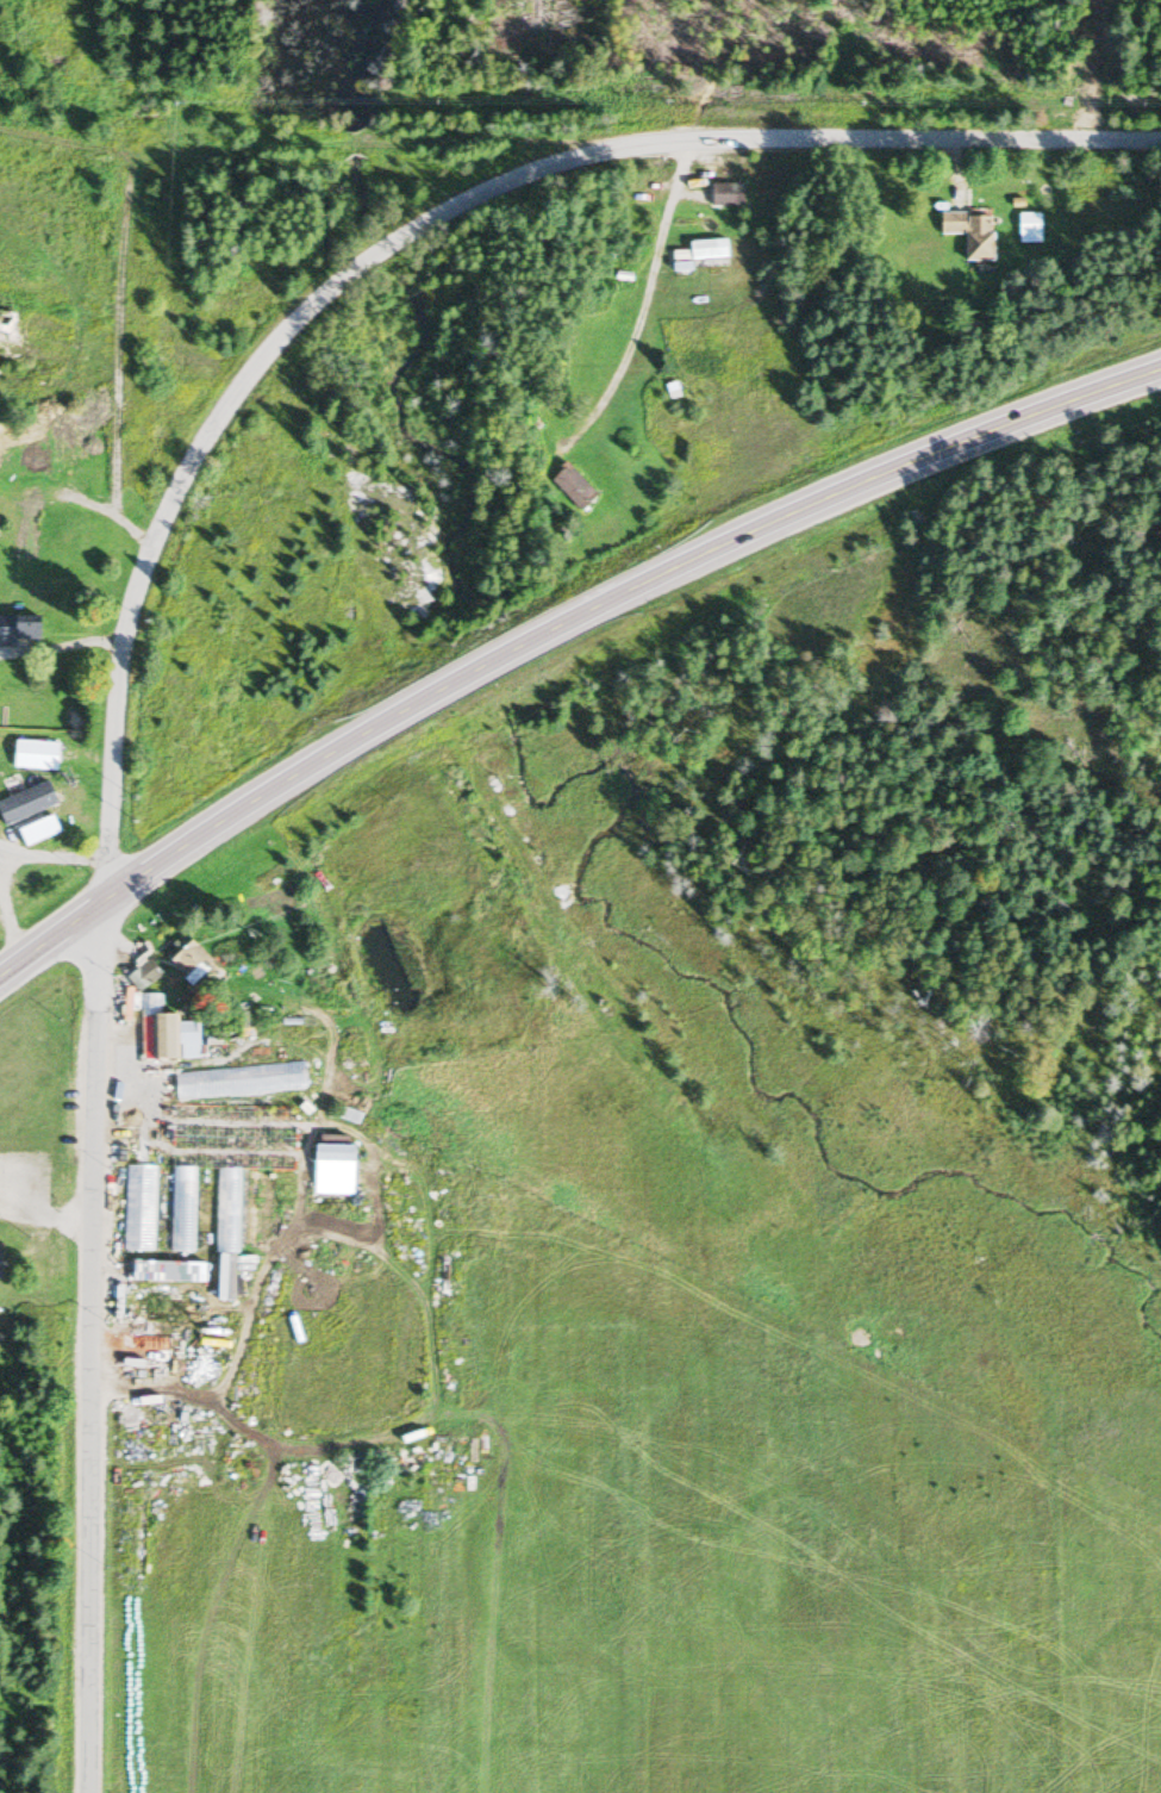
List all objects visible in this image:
road: (868, 139)
road: (343, 145)
building: (725, 197)
building: (966, 235)
building: (706, 251)
road: (642, 298)
road: (116, 373)
road: (238, 393)
building: (574, 488)
building: (29, 531)
road: (557, 625)
building: (25, 633)
building: (37, 758)
building: (25, 807)
building: (42, 835)
road: (108, 842)
building: (195, 963)
building: (152, 1007)
building: (192, 1042)
building: (242, 1082)
building: (342, 1156)
building: (138, 1209)
building: (181, 1210)
building: (226, 1228)
building: (4, 1266)
road: (94, 1345)

